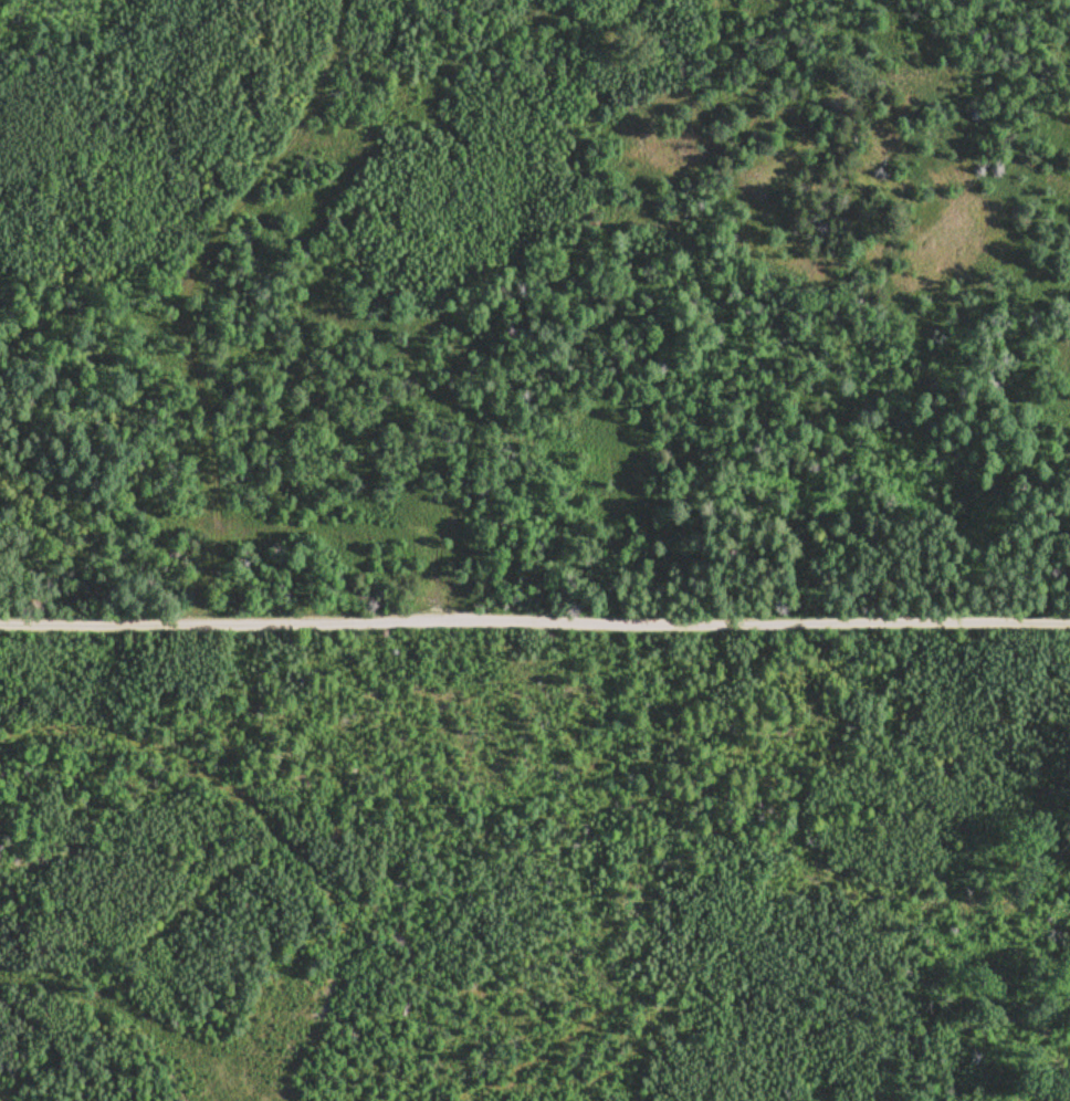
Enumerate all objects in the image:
road: (534, 619)

